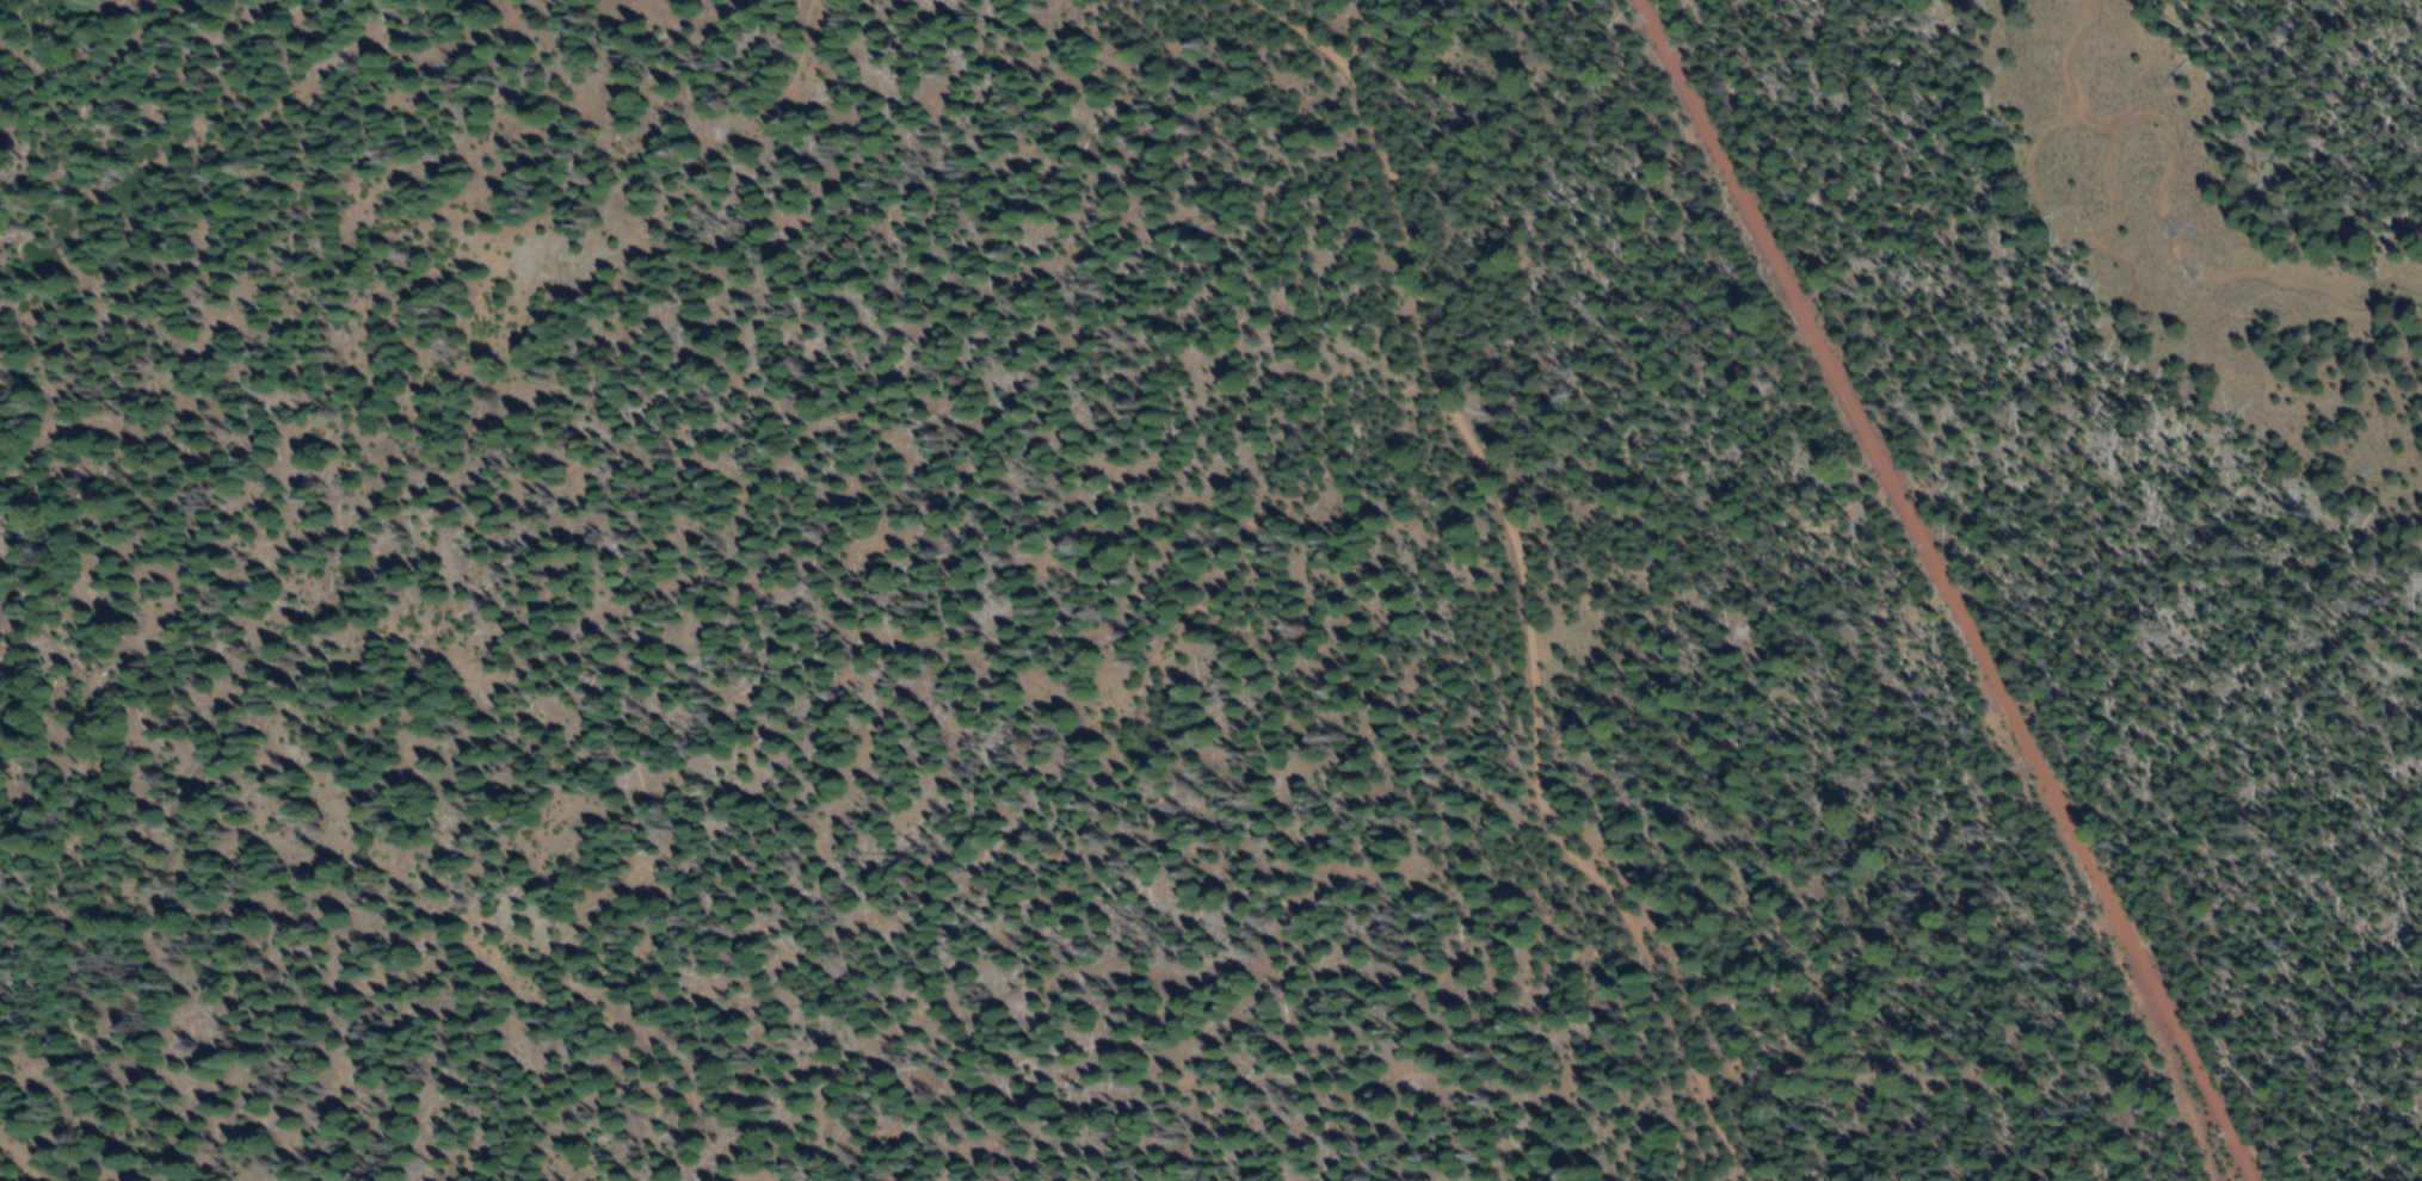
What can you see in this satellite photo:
road: (1528, 585)
road: (374, 787)
road: (39, 1156)

